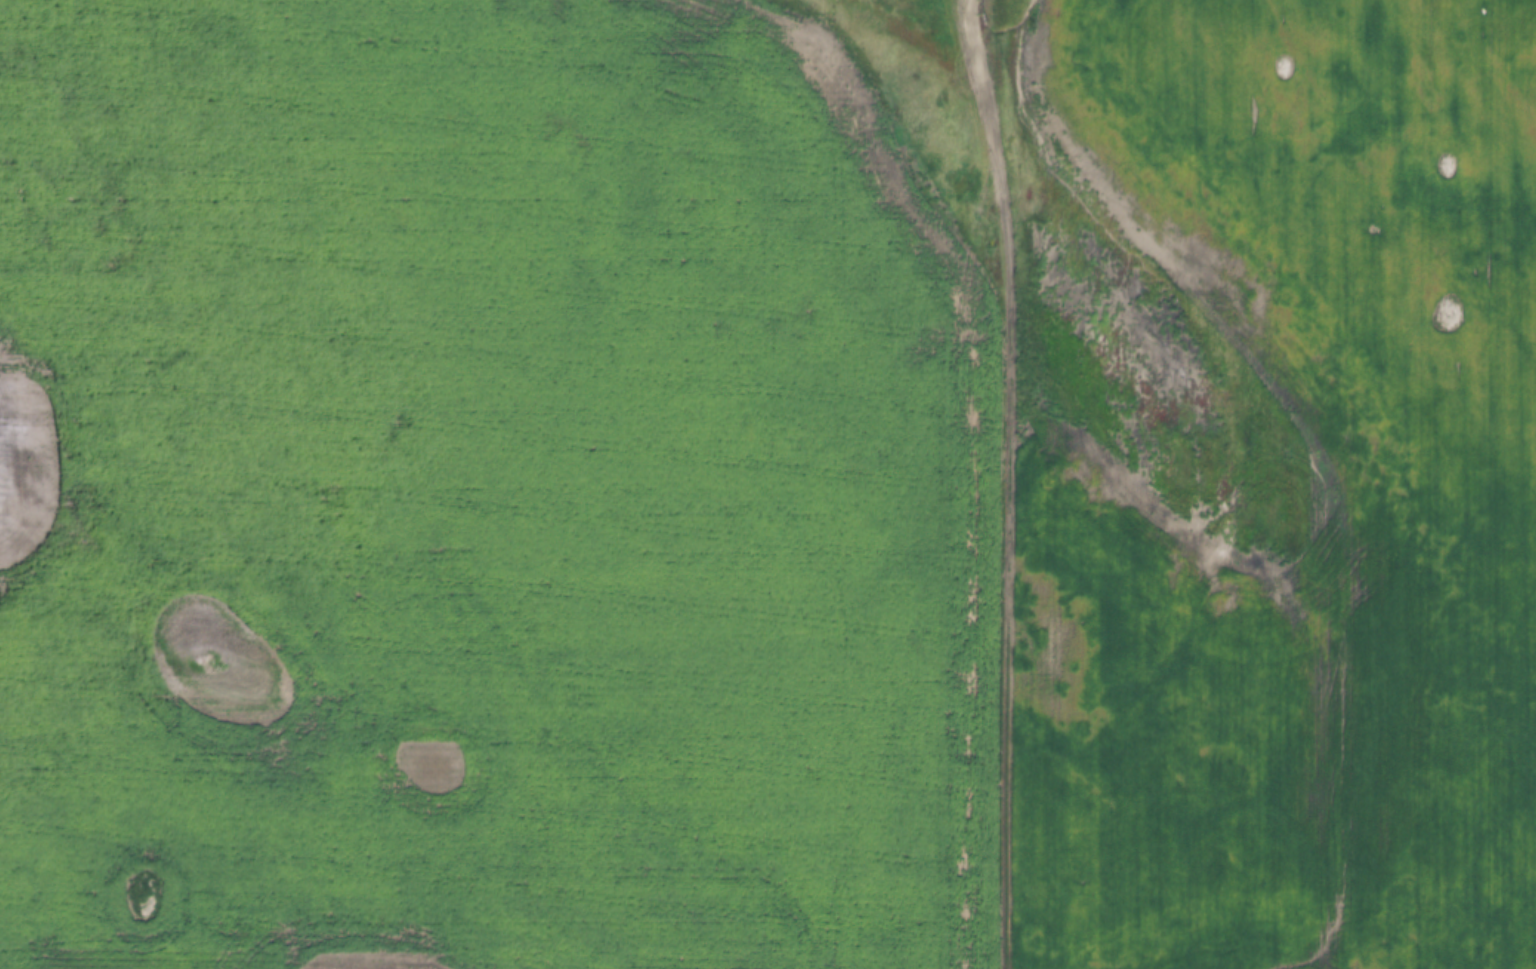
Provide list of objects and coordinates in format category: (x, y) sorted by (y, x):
road: (1001, 484)

